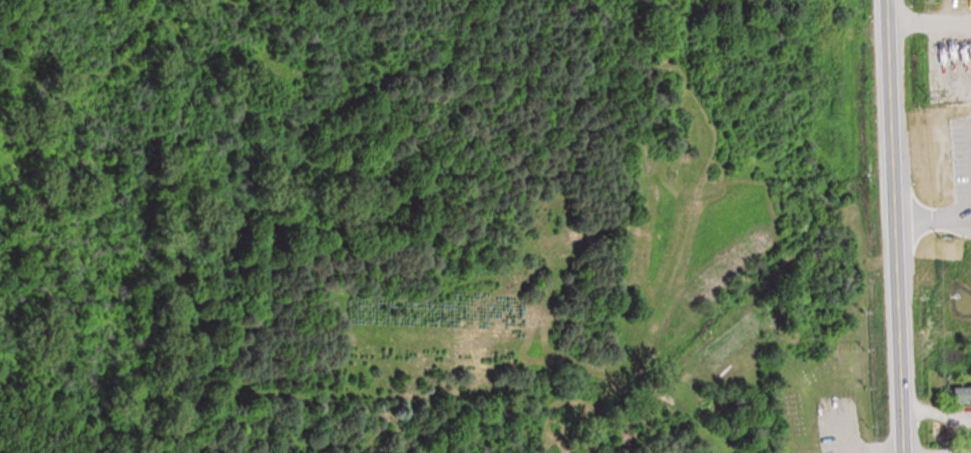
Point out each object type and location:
road: (929, 22)
road: (932, 219)
road: (894, 226)
building: (964, 393)

